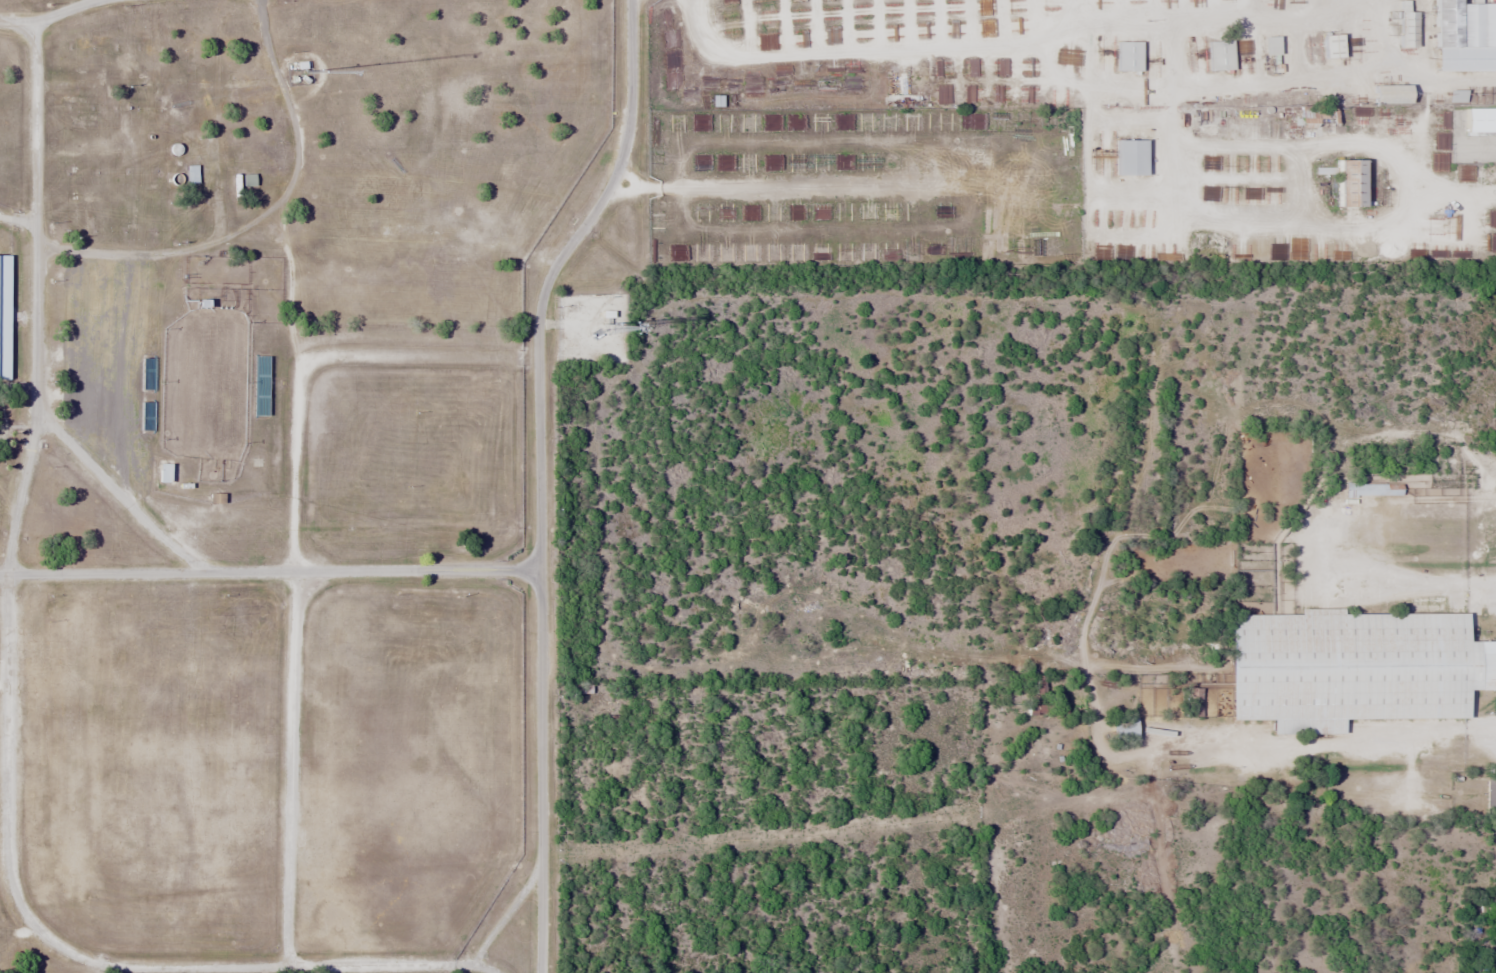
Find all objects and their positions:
road: (61, 14)
building: (1464, 22)
building: (1406, 25)
building: (1269, 44)
building: (1219, 54)
building: (1128, 55)
building: (60, 85)
building: (1390, 93)
building: (1480, 119)
building: (1350, 182)
road: (36, 291)
building: (4, 314)
building: (146, 416)
road: (537, 474)
building: (1370, 488)
road: (291, 663)
building: (1352, 667)
road: (6, 725)
building: (1122, 729)
building: (1490, 795)

